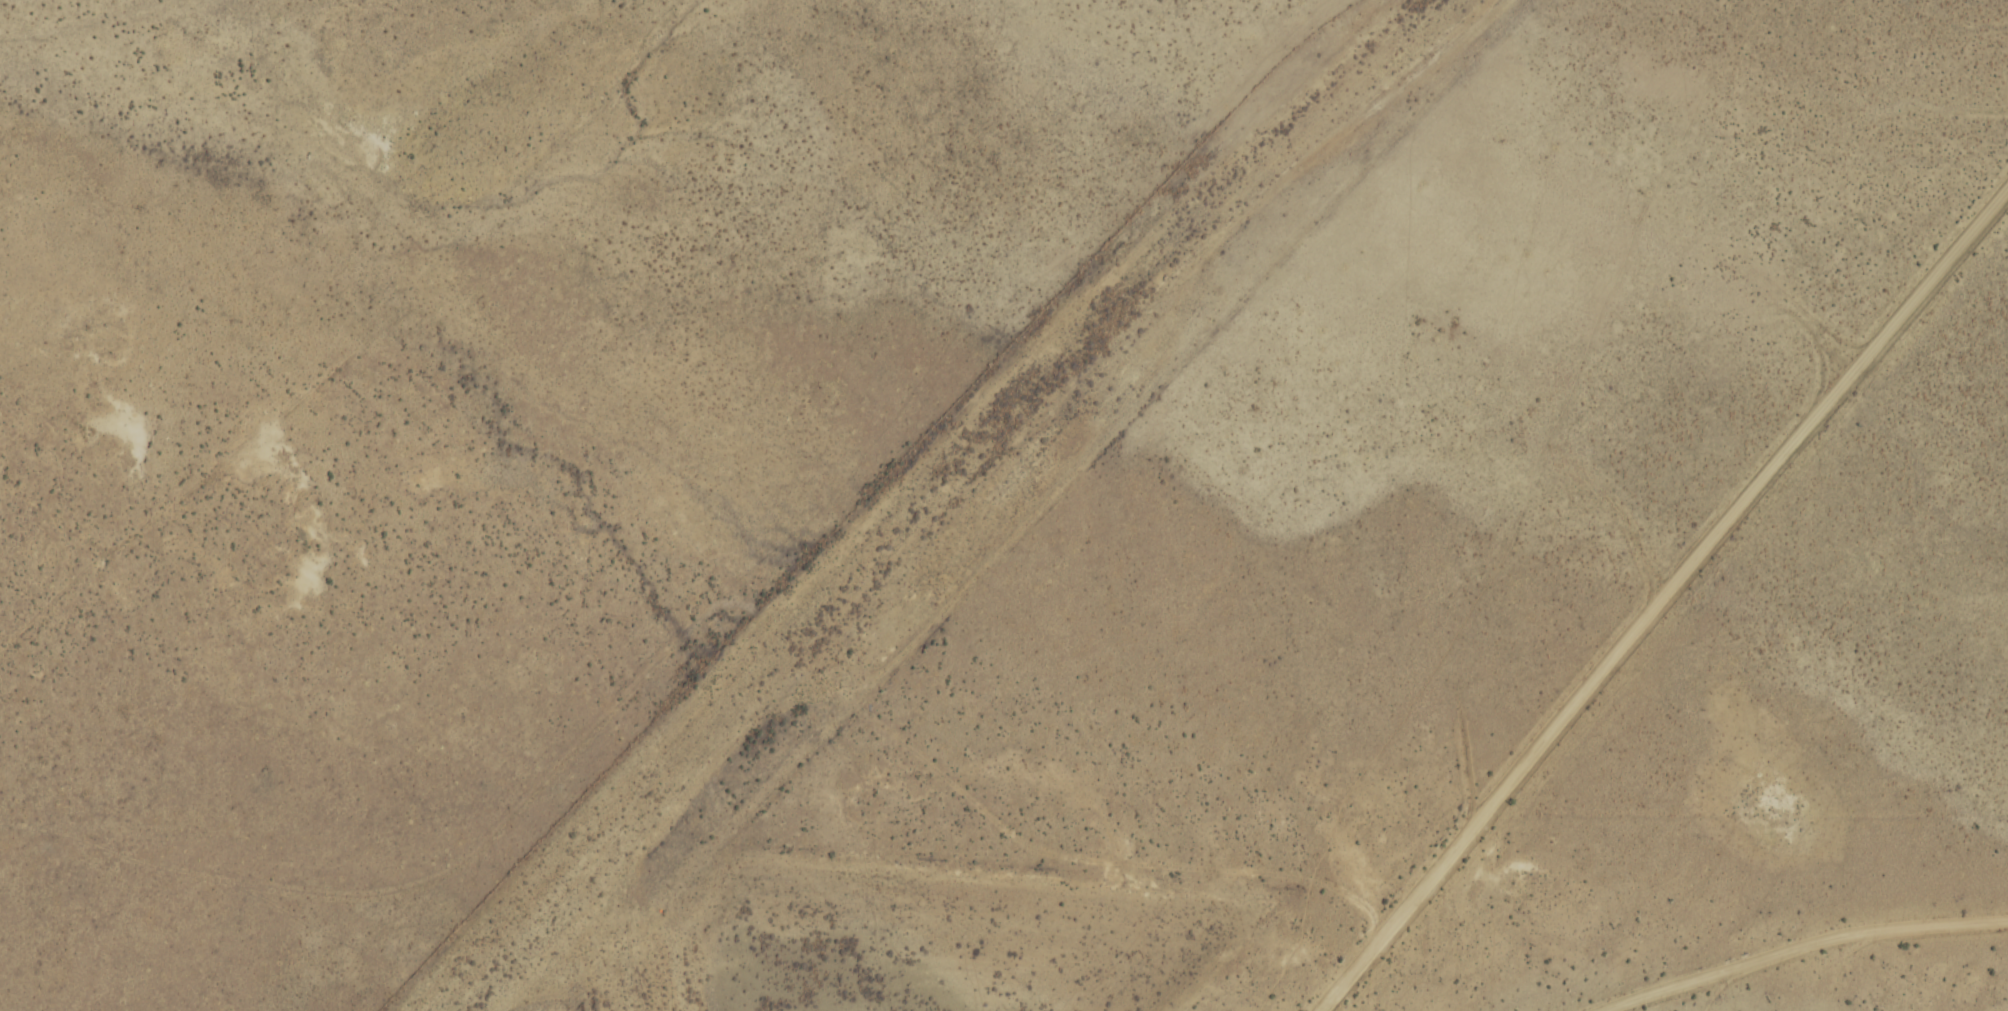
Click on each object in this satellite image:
road: (1660, 596)
road: (1795, 945)

